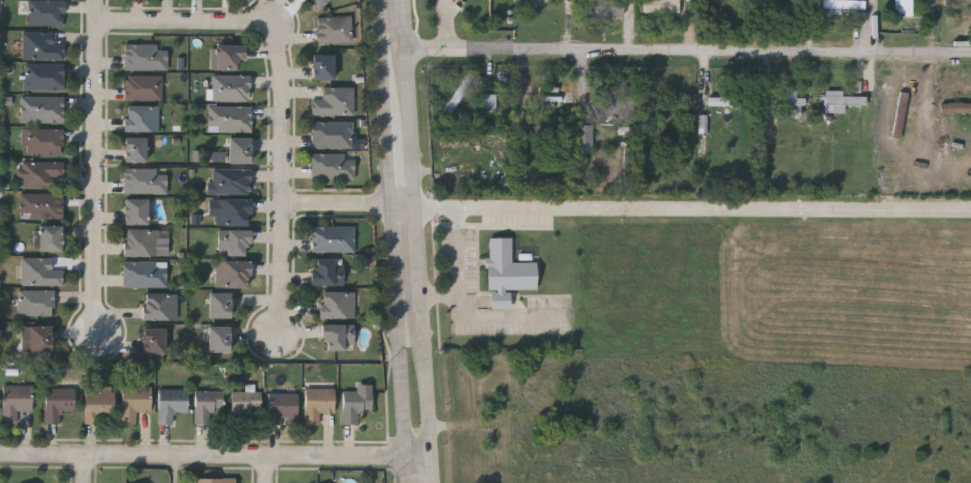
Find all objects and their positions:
building: (320, 3)
building: (780, 5)
building: (662, 6)
building: (603, 8)
building: (852, 8)
building: (905, 8)
building: (46, 12)
road: (402, 13)
road: (448, 26)
building: (334, 30)
building: (41, 46)
road: (687, 52)
building: (229, 55)
building: (146, 57)
road: (381, 63)
building: (323, 66)
building: (44, 77)
building: (144, 87)
building: (231, 88)
road: (283, 91)
building: (334, 101)
building: (490, 101)
building: (796, 101)
building: (842, 101)
building: (732, 102)
building: (616, 108)
building: (956, 108)
building: (42, 110)
road: (407, 115)
building: (901, 115)
building: (142, 118)
building: (230, 118)
building: (525, 131)
building: (333, 134)
building: (585, 140)
building: (46, 141)
building: (135, 149)
building: (240, 150)
building: (217, 157)
road: (389, 165)
building: (333, 166)
road: (100, 167)
building: (41, 174)
building: (145, 180)
building: (230, 180)
road: (338, 203)
road: (402, 204)
building: (42, 205)
road: (691, 208)
building: (135, 211)
building: (234, 211)
building: (50, 238)
building: (333, 238)
building: (141, 241)
building: (234, 242)
road: (416, 258)
building: (40, 271)
building: (328, 271)
building: (506, 272)
building: (145, 273)
building: (234, 273)
road: (460, 273)
building: (36, 302)
building: (220, 304)
building: (337, 304)
building: (160, 306)
road: (501, 318)
road: (398, 331)
building: (338, 337)
building: (38, 338)
building: (220, 339)
building: (153, 340)
road: (424, 385)
building: (16, 402)
building: (135, 402)
building: (58, 403)
building: (318, 403)
building: (356, 403)
building: (98, 404)
building: (171, 404)
building: (207, 404)
building: (245, 405)
building: (282, 408)
road: (202, 454)
road: (416, 457)
road: (86, 468)
road: (179, 468)
road: (270, 469)
road: (404, 470)
road: (429, 470)
building: (217, 480)

